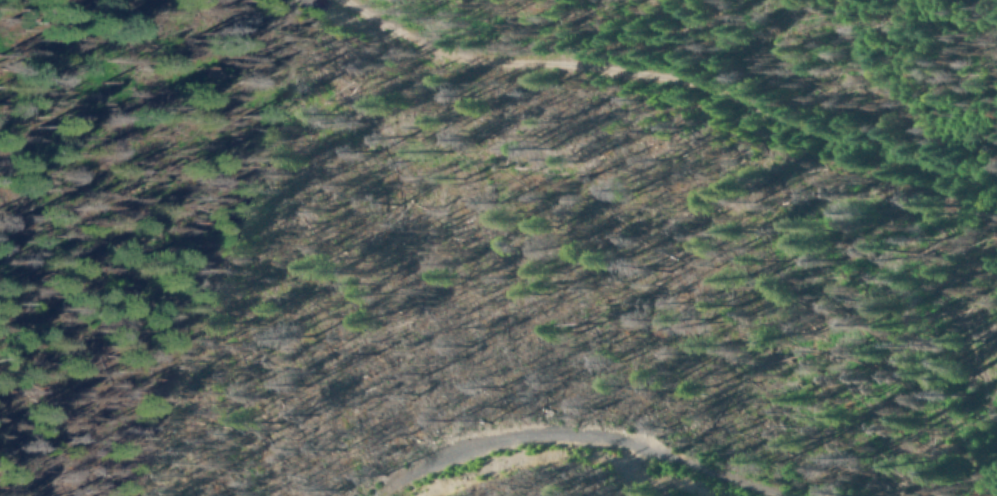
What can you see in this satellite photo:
road: (663, 81)

